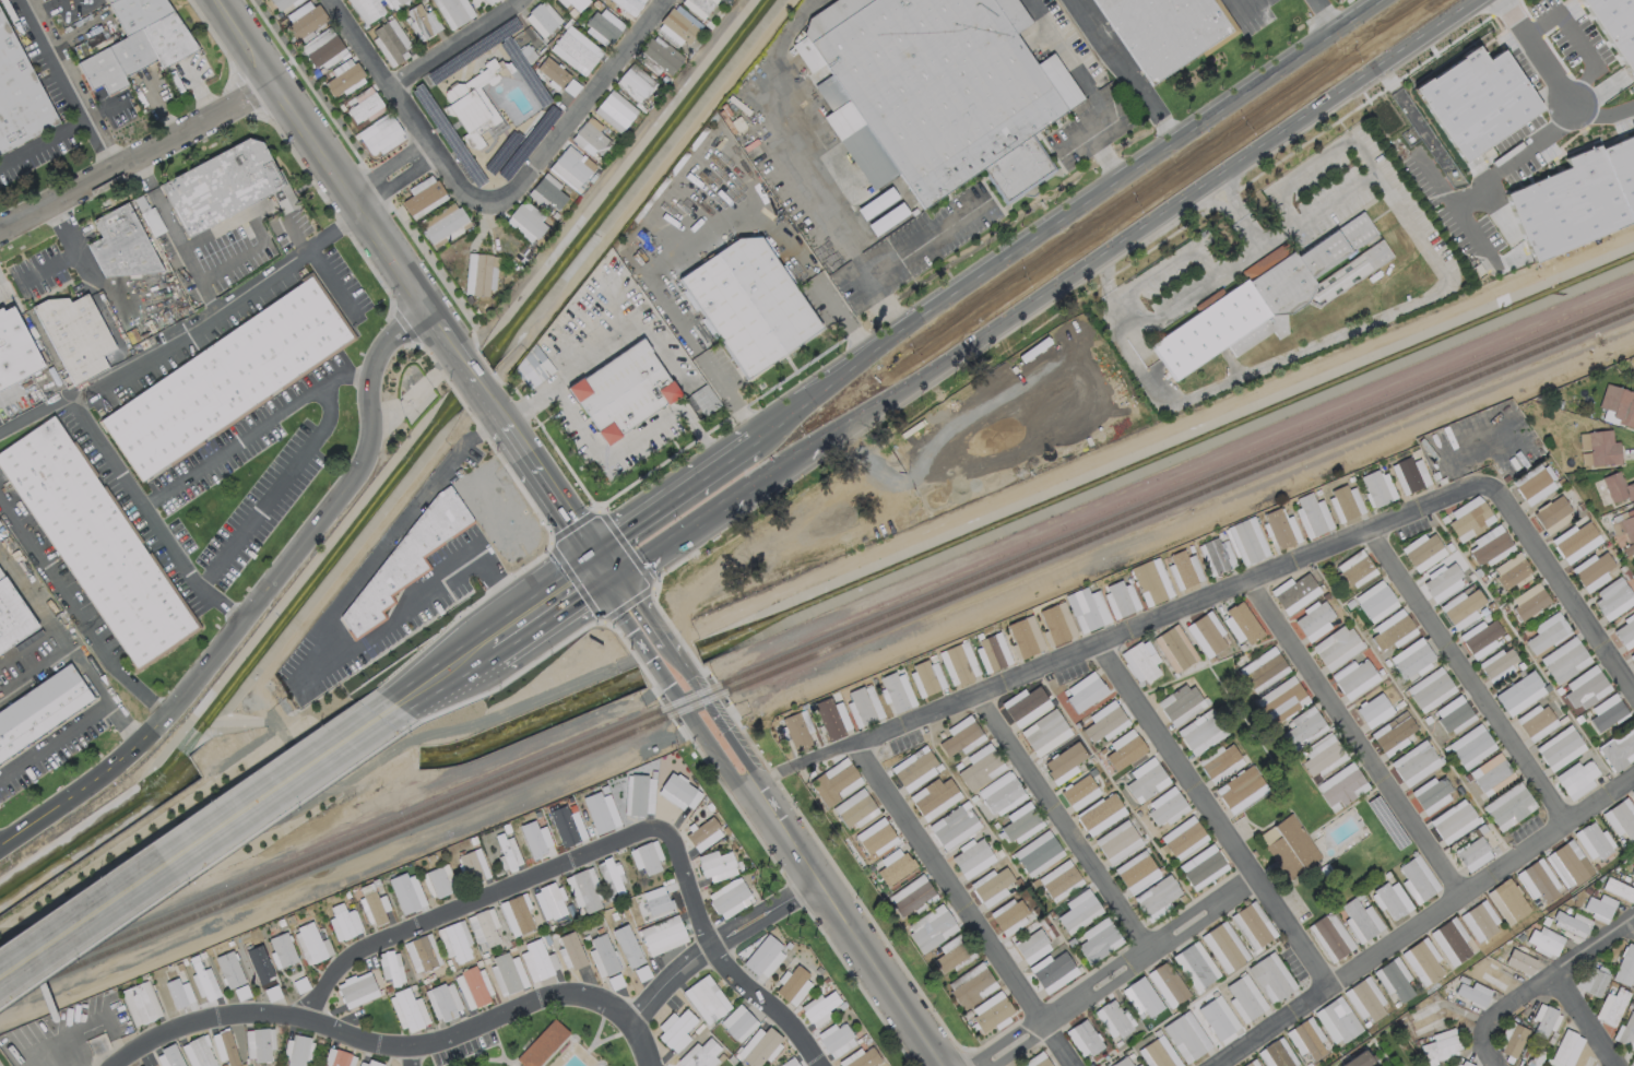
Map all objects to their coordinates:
building: (489, 1)
building: (395, 2)
building: (283, 3)
building: (575, 3)
building: (628, 5)
building: (699, 7)
building: (452, 12)
road: (1327, 14)
building: (541, 19)
building: (303, 20)
building: (422, 22)
building: (1617, 23)
building: (678, 25)
building: (603, 26)
building: (1162, 33)
building: (391, 43)
road: (1577, 45)
road: (457, 46)
building: (323, 50)
building: (576, 50)
road: (1536, 52)
building: (659, 56)
road: (56, 58)
road: (1128, 70)
building: (552, 72)
road: (381, 75)
building: (343, 76)
building: (944, 82)
building: (636, 85)
road: (1091, 90)
building: (19, 94)
building: (1476, 100)
building: (365, 105)
building: (474, 106)
building: (614, 111)
road: (1601, 112)
road: (70, 125)
building: (379, 132)
road: (560, 138)
building: (590, 138)
road: (138, 156)
road: (1512, 159)
building: (571, 167)
road: (792, 171)
road: (395, 176)
building: (547, 193)
building: (423, 197)
building: (1576, 197)
road: (1447, 202)
road: (1075, 210)
road: (168, 221)
building: (525, 222)
building: (443, 223)
road: (228, 224)
road: (926, 239)
building: (120, 245)
road: (794, 247)
road: (1117, 247)
road: (70, 250)
road: (403, 271)
building: (479, 273)
road: (330, 280)
road: (1, 288)
road: (1111, 294)
building: (1275, 298)
building: (750, 306)
road: (186, 329)
road: (1358, 330)
building: (74, 335)
building: (14, 348)
building: (532, 368)
road: (712, 368)
road: (44, 371)
road: (344, 375)
building: (226, 378)
road: (7, 394)
building: (625, 396)
road: (327, 402)
road: (531, 405)
building: (1619, 406)
road: (595, 442)
building: (1603, 449)
building: (1409, 475)
building: (1535, 484)
road: (675, 485)
building: (1376, 488)
building: (1618, 488)
building: (1345, 505)
building: (1551, 513)
road: (149, 514)
building: (1312, 516)
building: (1469, 518)
building: (1629, 525)
building: (1279, 528)
road: (680, 538)
building: (1246, 541)
building: (1575, 541)
building: (94, 543)
building: (1489, 546)
building: (1423, 552)
building: (1216, 556)
building: (406, 559)
traffic signals: (602, 569)
building: (1352, 569)
building: (1183, 570)
building: (1509, 570)
building: (1591, 571)
building: (1444, 578)
building: (1150, 582)
road: (21, 584)
building: (1294, 593)
road: (621, 597)
building: (1121, 599)
building: (1612, 599)
building: (1375, 601)
building: (1528, 601)
road: (257, 606)
building: (1087, 608)
building: (1461, 608)
road: (75, 616)
building: (12, 617)
building: (1314, 620)
building: (1243, 621)
building: (1056, 623)
road: (317, 627)
building: (1392, 631)
building: (1625, 631)
building: (1206, 633)
building: (1546, 633)
building: (1025, 638)
road: (1104, 639)
building: (1481, 639)
road: (29, 642)
road: (489, 642)
railway: (816, 644)
building: (1336, 647)
building: (1174, 649)
building: (992, 652)
railway: (816, 655)
building: (1632, 656)
building: (1411, 659)
building: (1564, 660)
building: (1140, 662)
building: (958, 664)
building: (1499, 664)
road: (674, 665)
road: (663, 670)
building: (1263, 670)
road: (35, 672)
road: (1469, 675)
building: (926, 677)
building: (1354, 678)
road: (96, 686)
building: (1585, 687)
building: (1430, 689)
building: (896, 691)
building: (1085, 691)
building: (1519, 694)
building: (1281, 700)
building: (1180, 704)
building: (1376, 704)
building: (863, 706)
building: (1026, 706)
building: (40, 710)
building: (1607, 712)
building: (1453, 714)
building: (831, 719)
building: (1104, 722)
building: (1536, 722)
building: (1304, 727)
road: (727, 731)
building: (794, 731)
building: (1044, 732)
building: (1199, 733)
building: (1393, 734)
building: (960, 736)
road: (54, 738)
road: (1352, 738)
road: (708, 742)
building: (1471, 746)
building: (1559, 748)
building: (1124, 749)
building: (1619, 749)
building: (1322, 756)
road: (800, 761)
building: (1064, 762)
building: (1219, 762)
building: (1414, 763)
building: (980, 768)
building: (1491, 774)
building: (1576, 779)
building: (1146, 780)
building: (834, 782)
building: (1341, 786)
building: (1239, 791)
building: (678, 792)
building: (1079, 793)
building: (1632, 793)
building: (1000, 794)
building: (1432, 794)
building: (639, 795)
building: (934, 797)
building: (1165, 806)
building: (1508, 806)
building: (854, 809)
building: (601, 813)
road: (1215, 813)
building: (1100, 814)
building: (1621, 818)
building: (1453, 821)
building: (1020, 822)
road: (1061, 824)
building: (566, 826)
building: (954, 826)
building: (703, 834)
building: (875, 837)
building: (1183, 838)
building: (535, 840)
building: (1592, 840)
road: (188, 841)
building: (1116, 841)
building: (1288, 846)
building: (507, 853)
building: (1037, 853)
building: (1472, 854)
building: (646, 857)
building: (972, 857)
building: (1568, 864)
building: (472, 866)
building: (717, 866)
building: (895, 866)
building: (1203, 866)
building: (1632, 869)
building: (1136, 872)
building: (609, 875)
building: (1417, 879)
building: (1059, 880)
building: (436, 881)
building: (1538, 883)
building: (991, 886)
building: (1618, 889)
building: (584, 890)
building: (406, 892)
building: (910, 896)
building: (729, 898)
building: (1156, 898)
building: (1390, 899)
building: (656, 901)
building: (1511, 902)
road: (463, 903)
building: (553, 904)
building: (1599, 908)
building: (374, 909)
building: (1078, 911)
building: (516, 914)
building: (1009, 915)
building: (1360, 921)
road: (1422, 922)
building: (1480, 922)
building: (343, 923)
building: (1571, 923)
road: (845, 926)
building: (1251, 926)
building: (483, 927)
building: (931, 927)
building: (662, 935)
building: (1329, 937)
building: (1098, 940)
building: (454, 941)
building: (1453, 941)
building: (1543, 941)
building: (311, 944)
building: (627, 946)
building: (1031, 946)
road: (721, 947)
building: (1223, 947)
building: (281, 950)
building: (570, 950)
building: (421, 952)
building: (951, 954)
building: (602, 956)
road: (717, 957)
building: (763, 957)
building: (537, 960)
building: (1423, 961)
building: (1195, 966)
building: (390, 967)
building: (1625, 967)
building: (229, 969)
building: (1052, 971)
road: (1122, 971)
building: (507, 972)
building: (1270, 978)
building: (1395, 980)
building: (1591, 980)
road: (1541, 982)
building: (204, 983)
building: (1167, 984)
building: (792, 985)
building: (971, 985)
building: (472, 987)
building: (356, 990)
building: (178, 993)
building: (1472, 993)
building: (1141, 997)
building: (1633, 997)
building: (1244, 998)
building: (706, 999)
building: (1365, 999)
building: (442, 1000)
building: (140, 1003)
building: (1611, 1007)
building: (819, 1008)
building: (407, 1010)
building: (991, 1011)
building: (1218, 1017)
building: (1423, 1018)
building: (1112, 1019)
road: (1587, 1019)
building: (1337, 1020)
building: (1544, 1020)
building: (737, 1022)
road: (203, 1023)
road: (471, 1027)
building: (675, 1029)
building: (1625, 1031)
building: (1185, 1037)
building: (1084, 1038)
building: (1306, 1039)
building: (1512, 1039)
building: (836, 1040)
road: (641, 1043)
building: (259, 1044)
building: (542, 1044)
building: (760, 1046)
building: (1441, 1046)
building: (224, 1047)
building: (1565, 1049)
building: (296, 1050)
building: (198, 1052)
building: (1158, 1053)
building: (1277, 1054)
building: (699, 1055)
building: (168, 1057)
road: (413, 1057)
building: (338, 1058)
building: (860, 1058)
building: (1532, 1059)
building: (1357, 1061)
building: (1038, 1062)
building: (1122, 1062)
building: (1632, 1062)
building: (366, 1063)
building: (790, 1063)
building: (1461, 1063)
building: (1252, 1064)
building: (1137, 1065)

